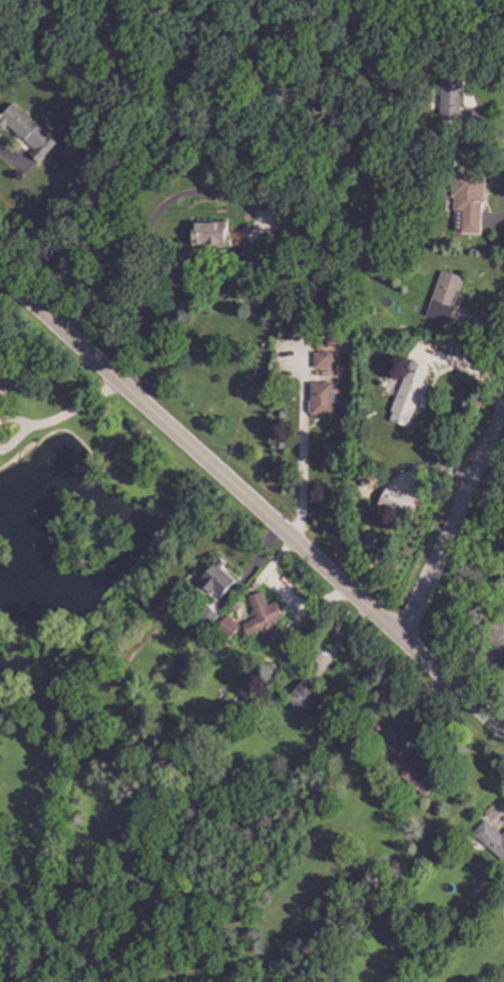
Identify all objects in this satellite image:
building: (379, 11)
building: (453, 93)
building: (28, 130)
road: (8, 158)
road: (192, 193)
building: (469, 200)
building: (286, 218)
building: (211, 233)
building: (374, 233)
building: (447, 295)
building: (332, 339)
building: (318, 343)
building: (324, 359)
building: (342, 367)
building: (3, 379)
building: (384, 382)
building: (411, 393)
building: (1, 397)
building: (323, 398)
road: (64, 414)
road: (300, 443)
building: (370, 482)
road: (251, 504)
building: (393, 504)
road: (453, 520)
building: (370, 534)
building: (216, 578)
building: (209, 614)
building: (265, 616)
building: (503, 620)
building: (203, 626)
building: (230, 627)
building: (310, 698)
building: (379, 754)
building: (418, 770)
building: (277, 781)
building: (491, 837)
building: (447, 855)
building: (441, 861)
building: (477, 891)
building: (262, 971)

